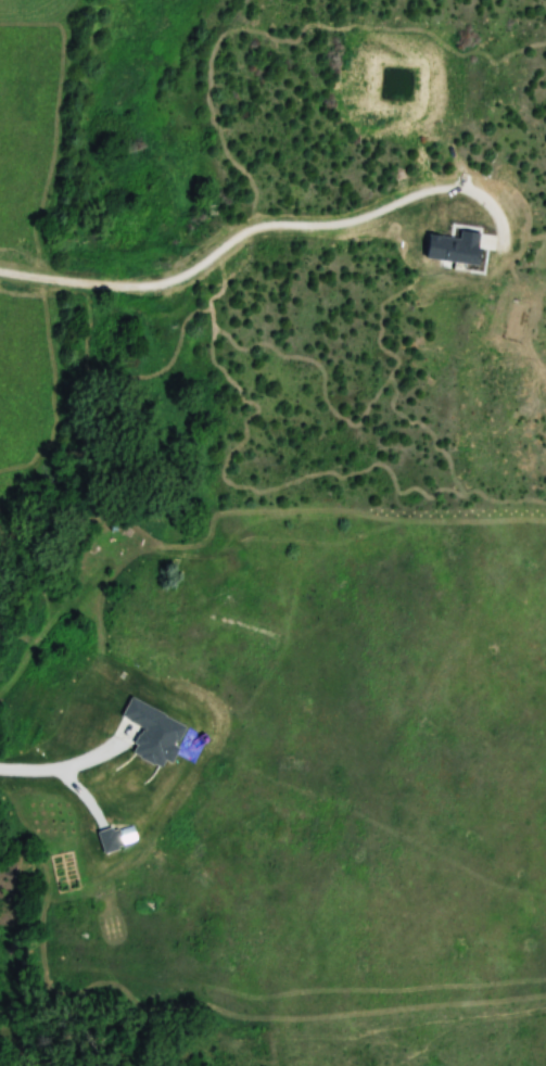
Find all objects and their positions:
road: (261, 228)
road: (60, 767)

